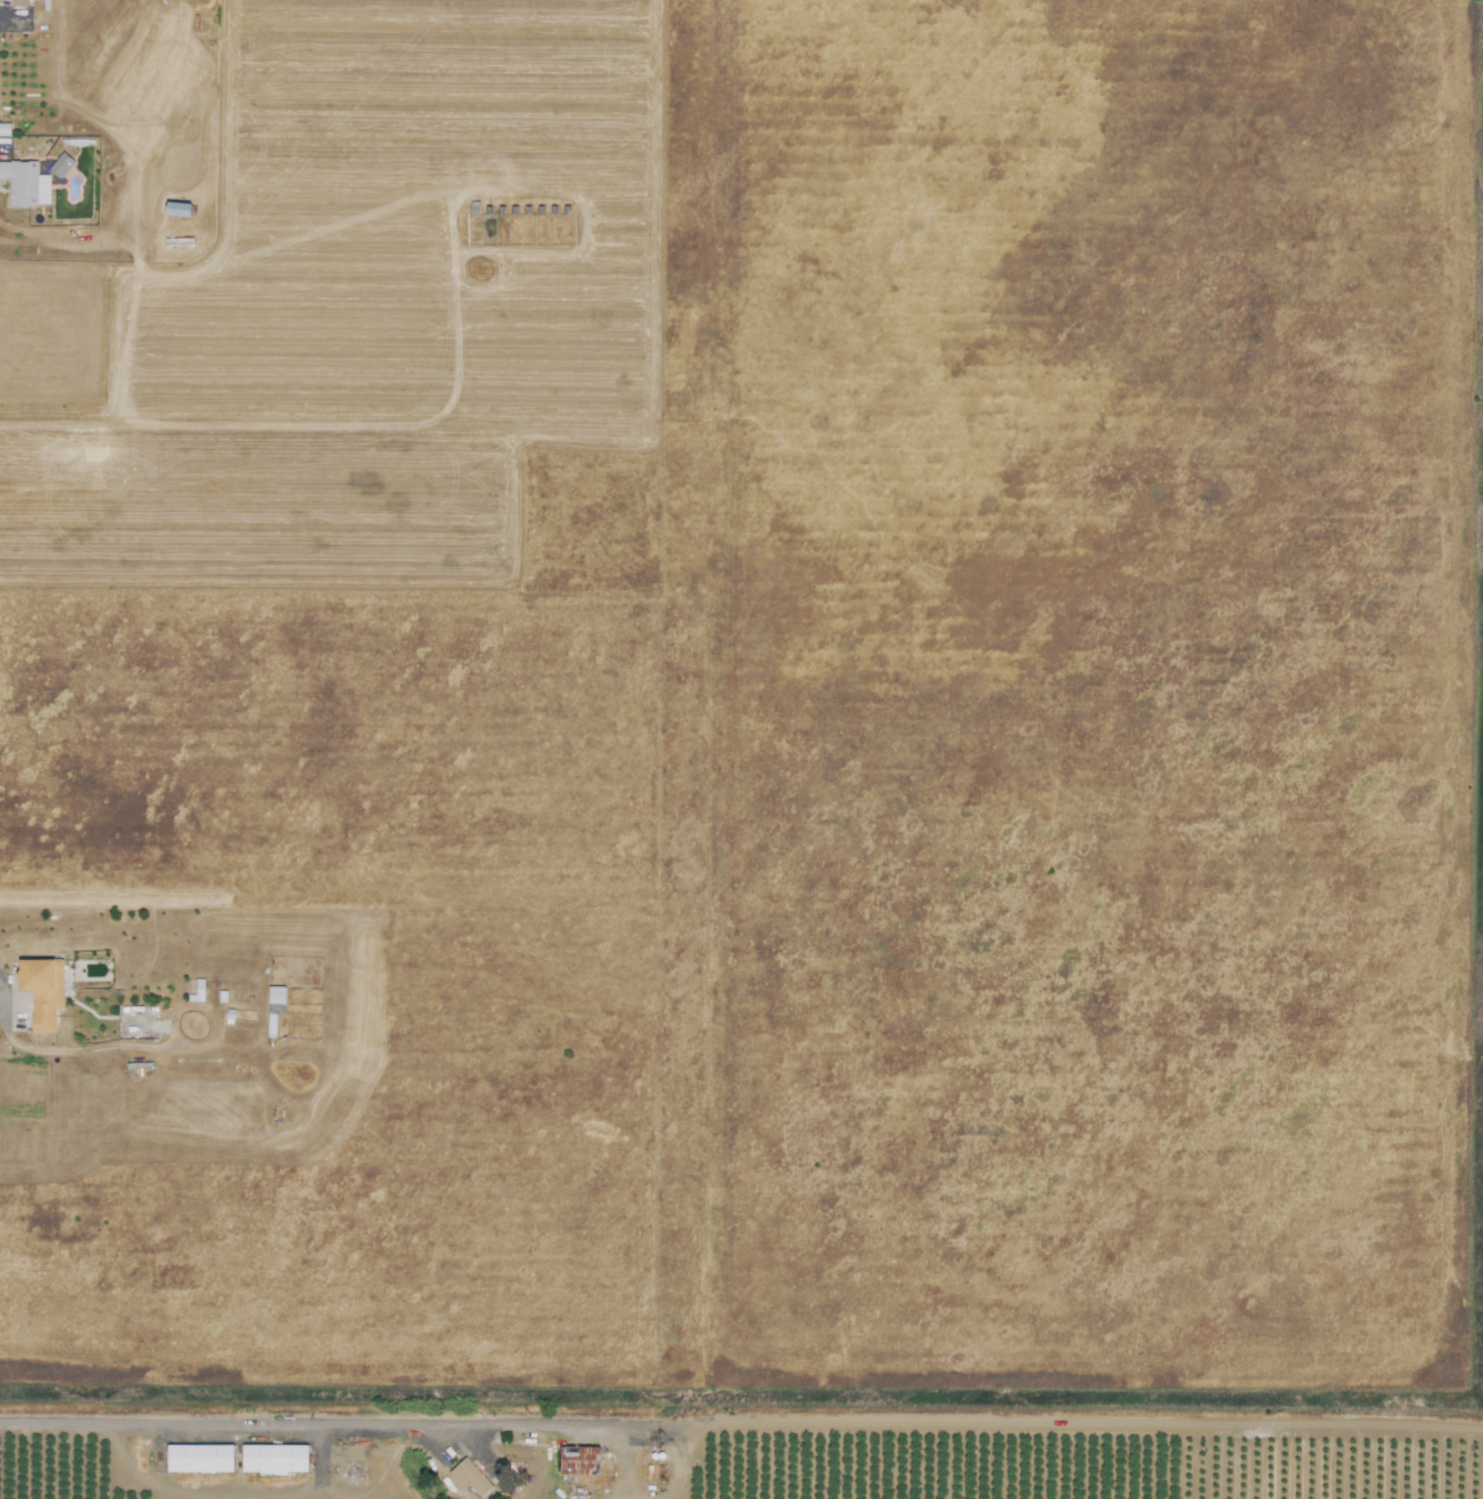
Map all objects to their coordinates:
building: (18, 2)
building: (61, 165)
building: (19, 180)
building: (179, 209)
building: (41, 991)
building: (274, 1007)
road: (80, 1049)
road: (330, 1425)
building: (200, 1458)
building: (275, 1458)
building: (585, 1459)
building: (470, 1477)

